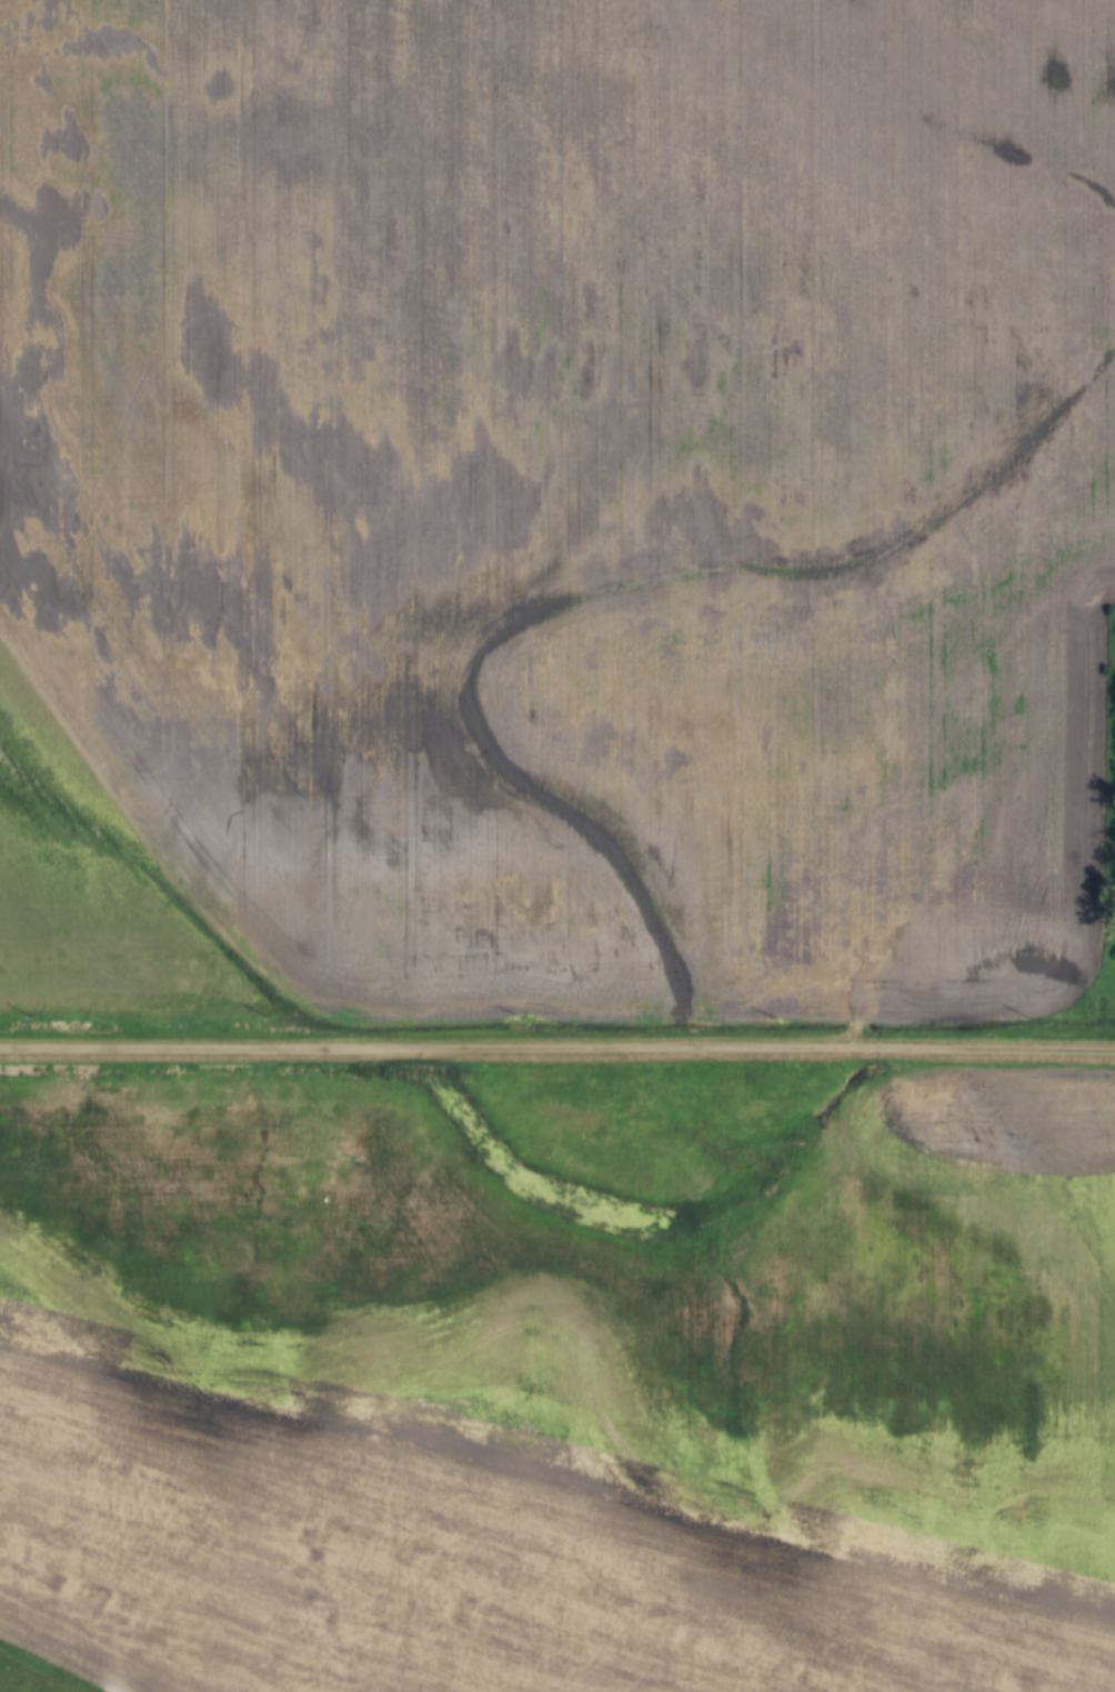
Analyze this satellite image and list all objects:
road: (557, 1051)

